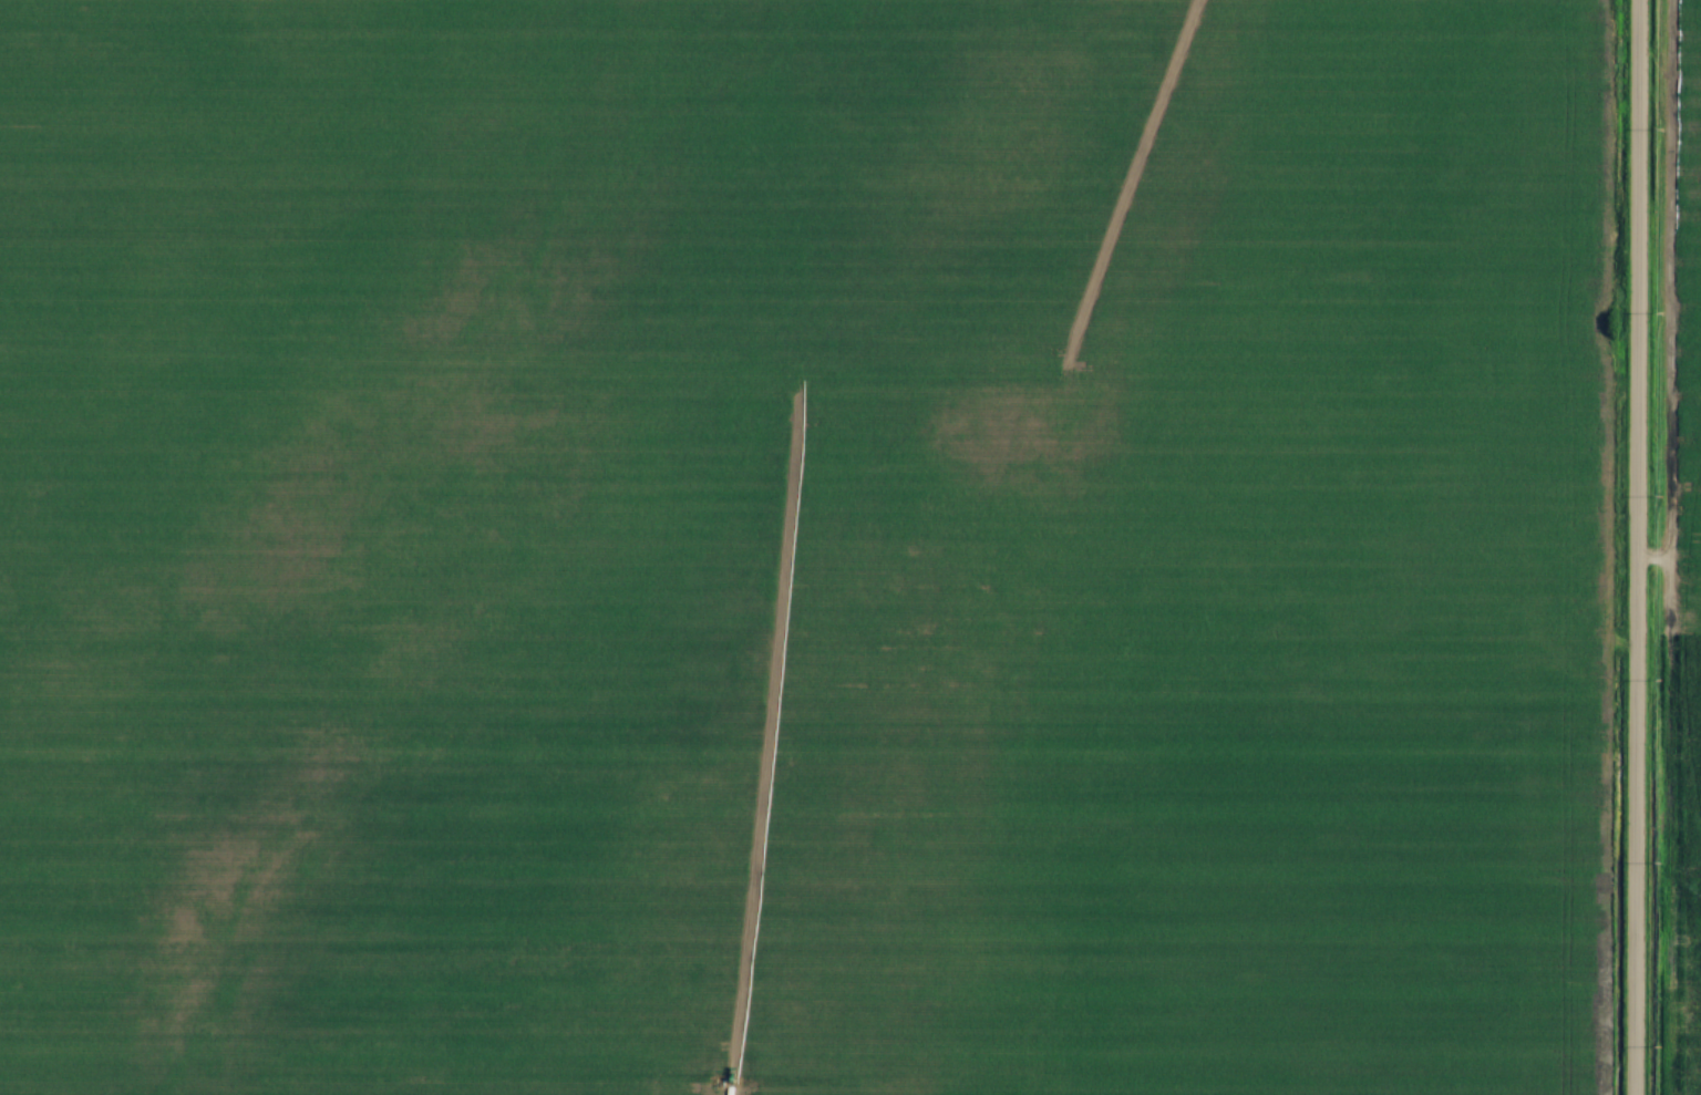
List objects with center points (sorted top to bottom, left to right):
road: (1633, 547)

